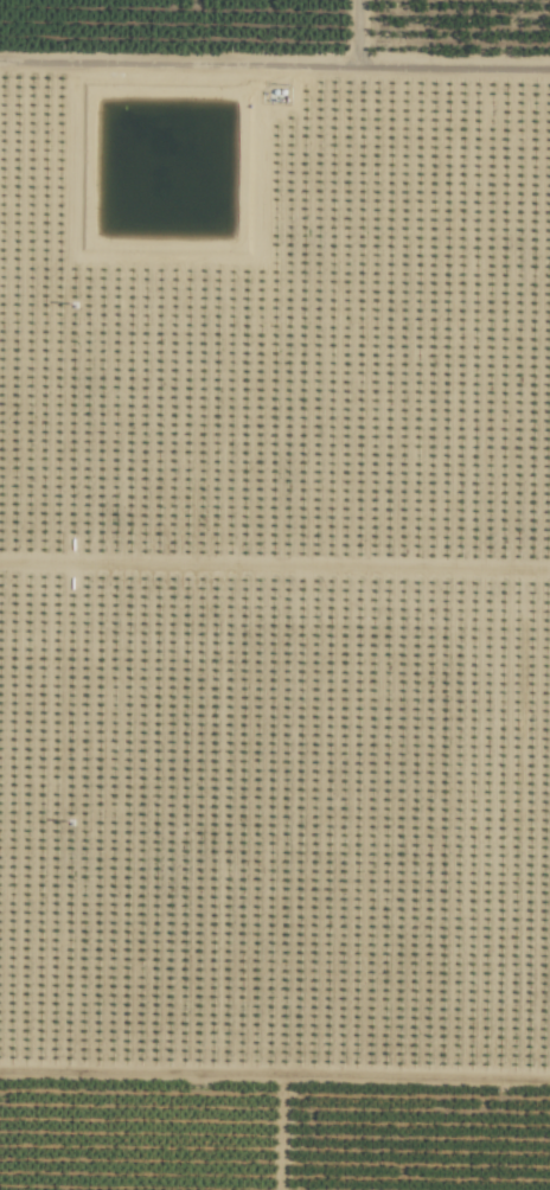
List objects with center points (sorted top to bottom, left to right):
road: (275, 76)

